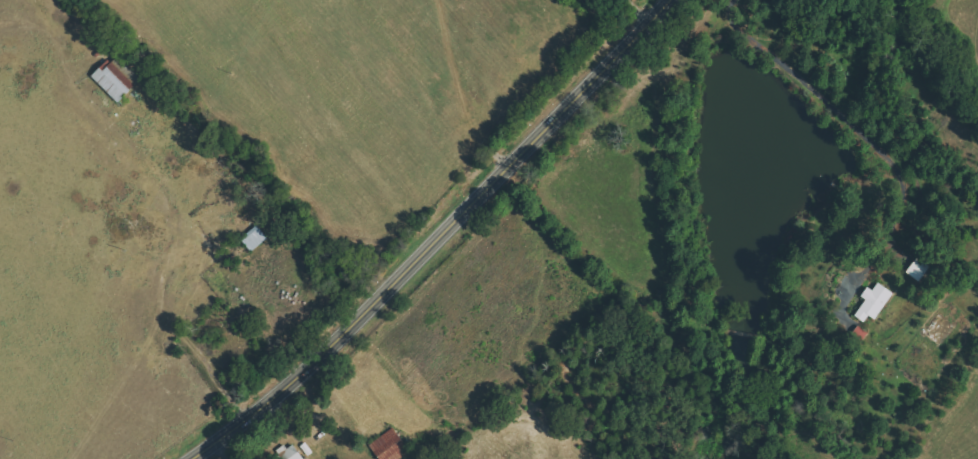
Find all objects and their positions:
building: (120, 80)
road: (855, 126)
building: (254, 239)
road: (434, 241)
building: (873, 302)
building: (858, 333)
building: (389, 446)

